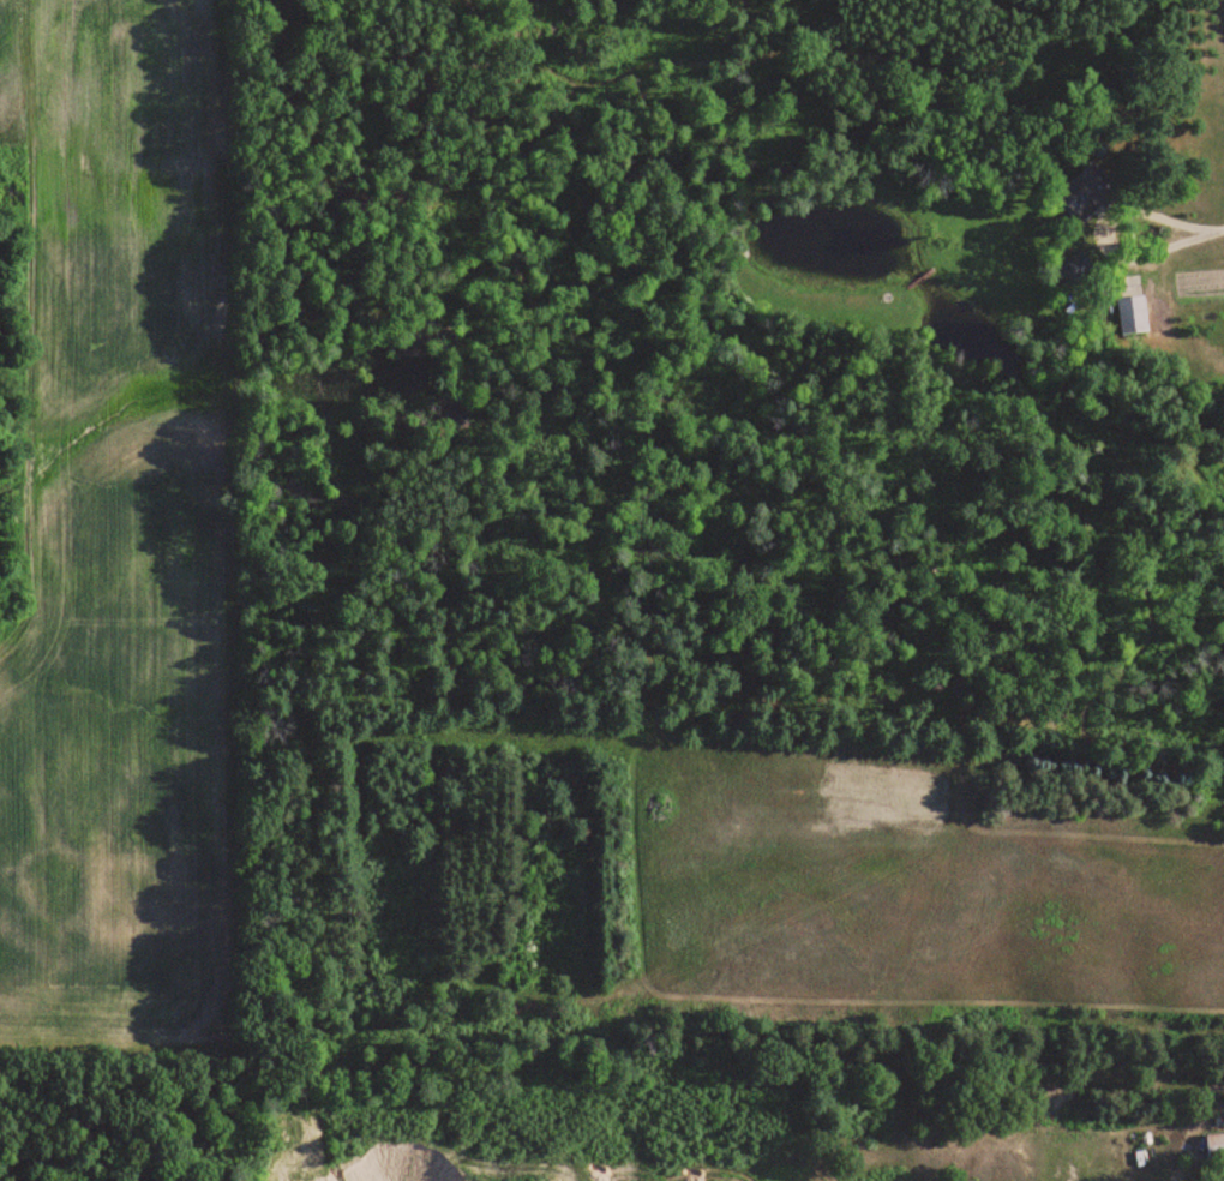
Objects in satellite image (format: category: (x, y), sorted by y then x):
building: (1088, 191)
building: (1132, 314)
building: (1214, 1146)

